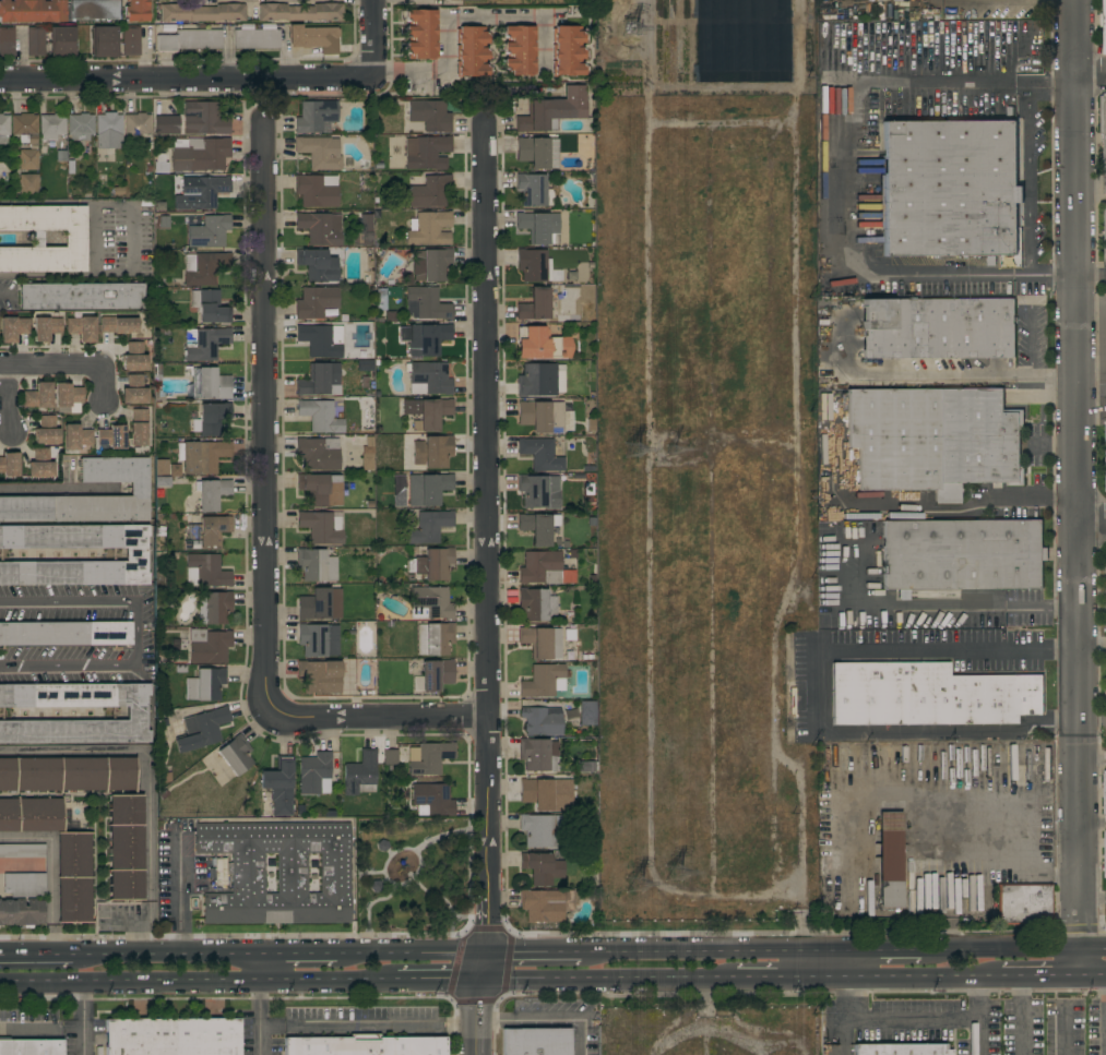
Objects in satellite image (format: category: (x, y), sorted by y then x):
building: (449, 0)
building: (95, 10)
building: (136, 10)
building: (32, 11)
building: (203, 12)
building: (299, 12)
road: (453, 13)
power tower: (637, 24)
building: (1103, 24)
building: (420, 34)
building: (255, 38)
building: (314, 38)
road: (374, 39)
building: (131, 40)
building: (190, 40)
building: (7, 41)
building: (35, 41)
building: (61, 41)
building: (104, 41)
road: (544, 45)
building: (519, 50)
building: (471, 51)
building: (567, 51)
road: (1091, 75)
road: (187, 79)
building: (552, 111)
building: (430, 115)
building: (316, 117)
building: (203, 119)
building: (166, 124)
building: (4, 127)
building: (50, 127)
building: (80, 127)
building: (135, 127)
building: (24, 128)
building: (109, 131)
building: (1104, 133)
building: (320, 152)
building: (427, 152)
building: (537, 152)
building: (200, 155)
building: (28, 157)
building: (60, 157)
road: (846, 175)
road: (1030, 178)
building: (27, 183)
building: (950, 188)
building: (534, 190)
building: (204, 191)
building: (317, 191)
building: (429, 191)
building: (538, 226)
building: (318, 228)
building: (429, 228)
building: (362, 230)
building: (209, 231)
building: (1104, 233)
building: (74, 238)
road: (94, 238)
road: (132, 238)
building: (430, 264)
building: (318, 265)
building: (534, 265)
building: (204, 267)
road: (1091, 276)
building: (81, 296)
building: (316, 301)
building: (426, 303)
building: (535, 304)
building: (210, 305)
building: (391, 315)
building: (23, 325)
building: (117, 325)
building: (46, 327)
building: (938, 328)
building: (9, 329)
building: (81, 329)
building: (319, 339)
building: (428, 339)
building: (204, 343)
building: (543, 345)
building: (139, 346)
building: (133, 362)
road: (64, 363)
building: (365, 365)
road: (959, 374)
building: (428, 377)
building: (320, 380)
building: (537, 380)
building: (210, 384)
building: (134, 388)
building: (38, 396)
building: (68, 396)
road: (12, 397)
building: (428, 412)
building: (320, 416)
building: (542, 416)
building: (213, 418)
road: (267, 419)
building: (46, 430)
building: (138, 434)
building: (75, 436)
building: (112, 436)
building: (932, 439)
building: (1105, 446)
power tower: (638, 447)
power tower: (683, 448)
building: (429, 452)
building: (318, 453)
building: (540, 454)
building: (202, 456)
building: (367, 460)
building: (9, 464)
building: (40, 465)
building: (139, 489)
building: (321, 489)
building: (430, 489)
road: (1077, 489)
road: (55, 491)
building: (539, 491)
building: (212, 494)
road: (923, 509)
road: (1092, 517)
building: (322, 526)
building: (429, 527)
building: (538, 527)
building: (213, 531)
building: (191, 544)
building: (135, 554)
building: (963, 554)
building: (432, 564)
building: (316, 565)
building: (540, 567)
building: (205, 570)
road: (488, 588)
building: (430, 603)
building: (320, 604)
building: (537, 604)
road: (940, 606)
building: (214, 608)
building: (64, 633)
road: (133, 635)
building: (435, 638)
building: (318, 639)
building: (542, 642)
building: (209, 646)
road: (1092, 646)
building: (436, 674)
building: (320, 676)
building: (545, 681)
building: (204, 684)
road: (824, 691)
building: (929, 695)
building: (587, 712)
building: (136, 714)
road: (379, 716)
building: (542, 720)
building: (202, 730)
building: (538, 754)
building: (236, 755)
building: (390, 757)
building: (429, 757)
road: (145, 760)
road: (1092, 760)
building: (586, 766)
building: (68, 774)
building: (314, 774)
building: (360, 774)
building: (280, 786)
building: (1105, 792)
building: (537, 793)
building: (432, 799)
building: (31, 815)
road: (1093, 823)
building: (539, 829)
road: (1012, 844)
building: (126, 847)
building: (22, 851)
building: (1104, 853)
building: (890, 860)
building: (542, 867)
road: (50, 871)
building: (278, 872)
power tower: (681, 872)
building: (74, 877)
power tower: (641, 883)
building: (22, 884)
road: (179, 894)
road: (1093, 899)
building: (546, 904)
building: (1024, 904)
building: (21, 911)
road: (147, 933)
road: (1016, 948)
road: (903, 949)
road: (729, 951)
road: (534, 952)
road: (413, 954)
traffic signals: (487, 954)
road: (36, 955)
road: (169, 955)
road: (302, 955)
road: (944, 978)
road: (760, 980)
road: (609, 981)
road: (440, 982)
traffic signals: (484, 982)
road: (199, 983)
road: (980, 999)
road: (1018, 1016)
road: (82, 1019)
road: (259, 1019)
road: (545, 1019)
road: (908, 1021)
road: (370, 1029)
building: (171, 1036)
building: (535, 1042)
building: (364, 1045)
building: (31, 1047)
building: (900, 1050)

